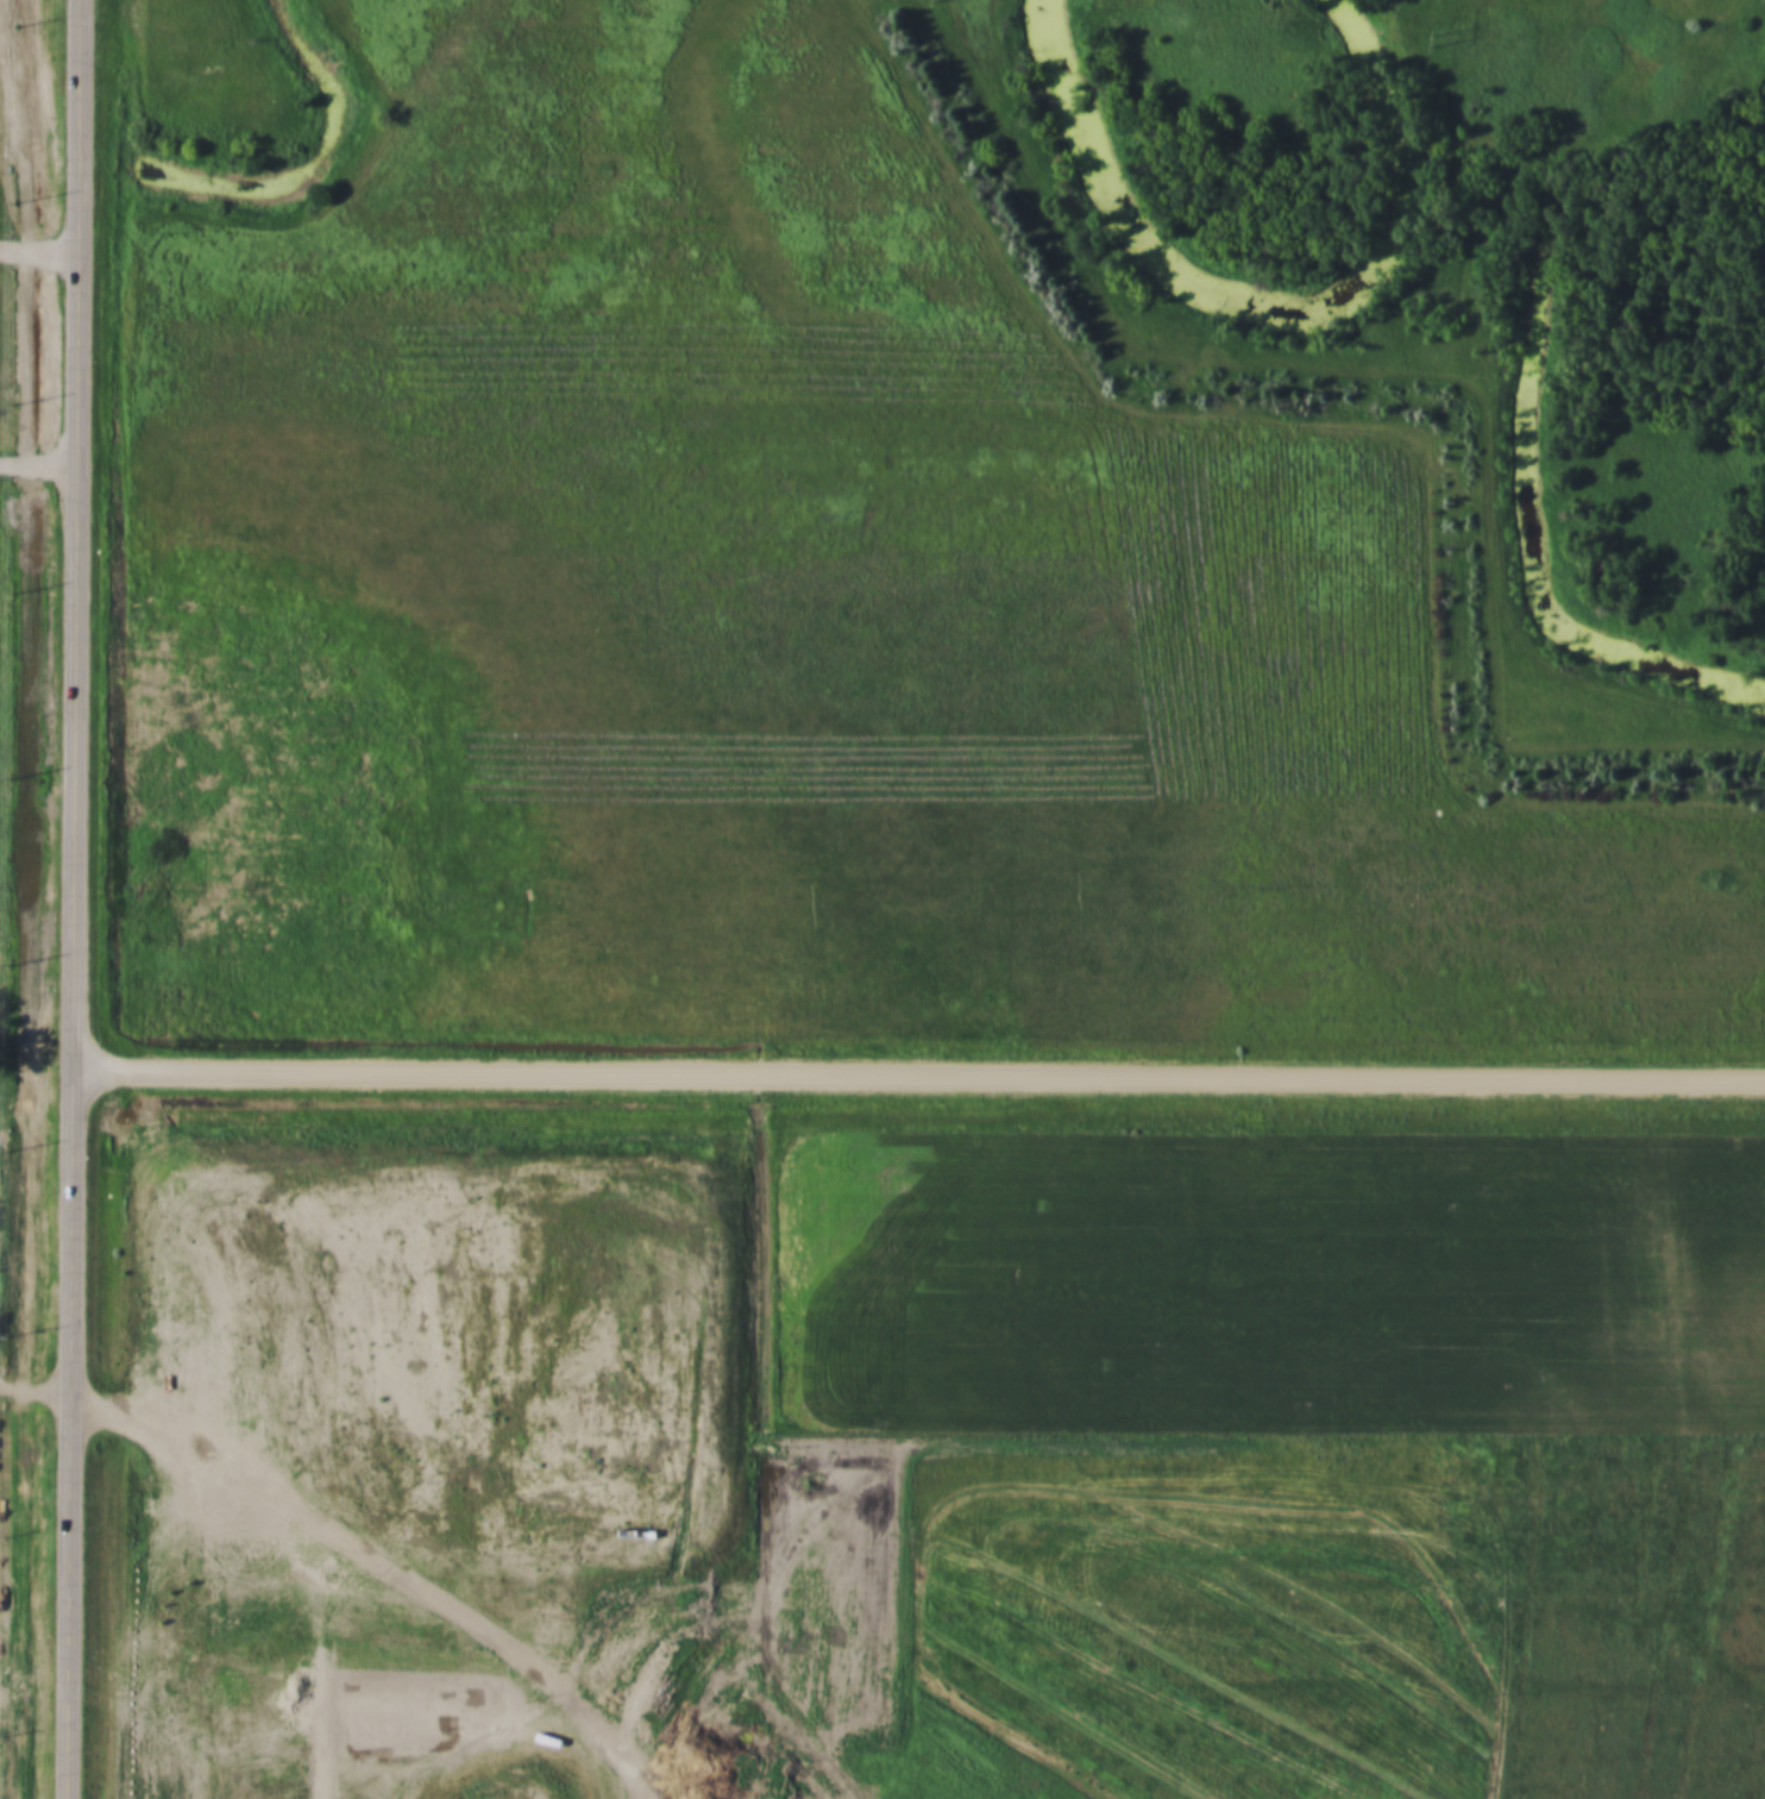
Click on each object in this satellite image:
power tower: (1436, 39)
road: (37, 464)
road: (71, 898)
road: (918, 1073)
road: (33, 1399)

